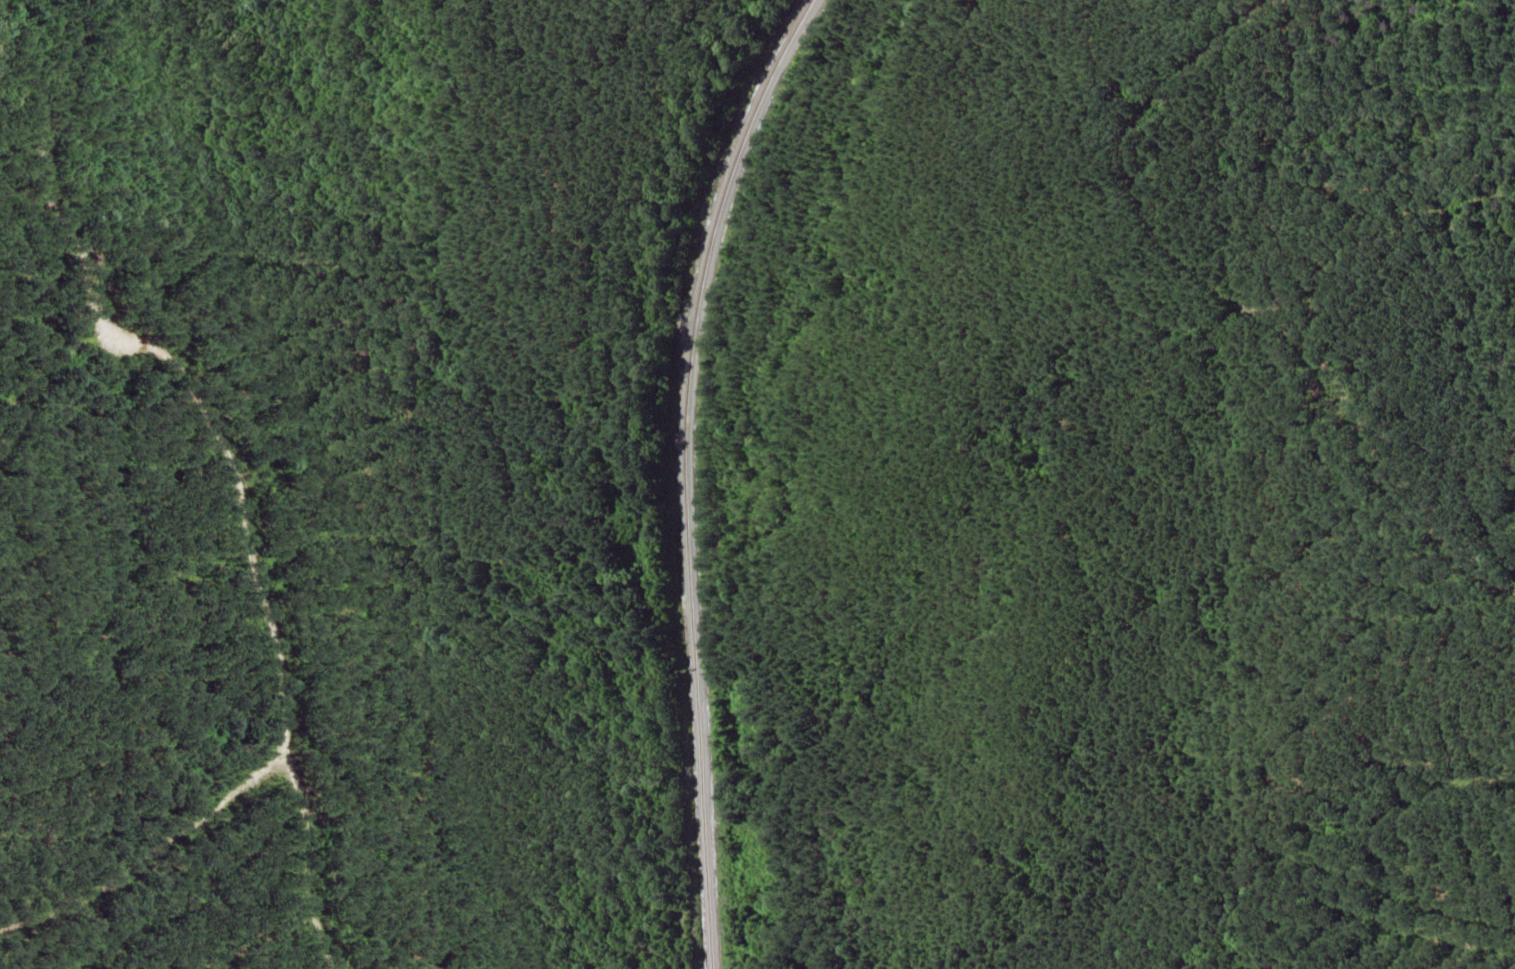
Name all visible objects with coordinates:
railway: (685, 473)

